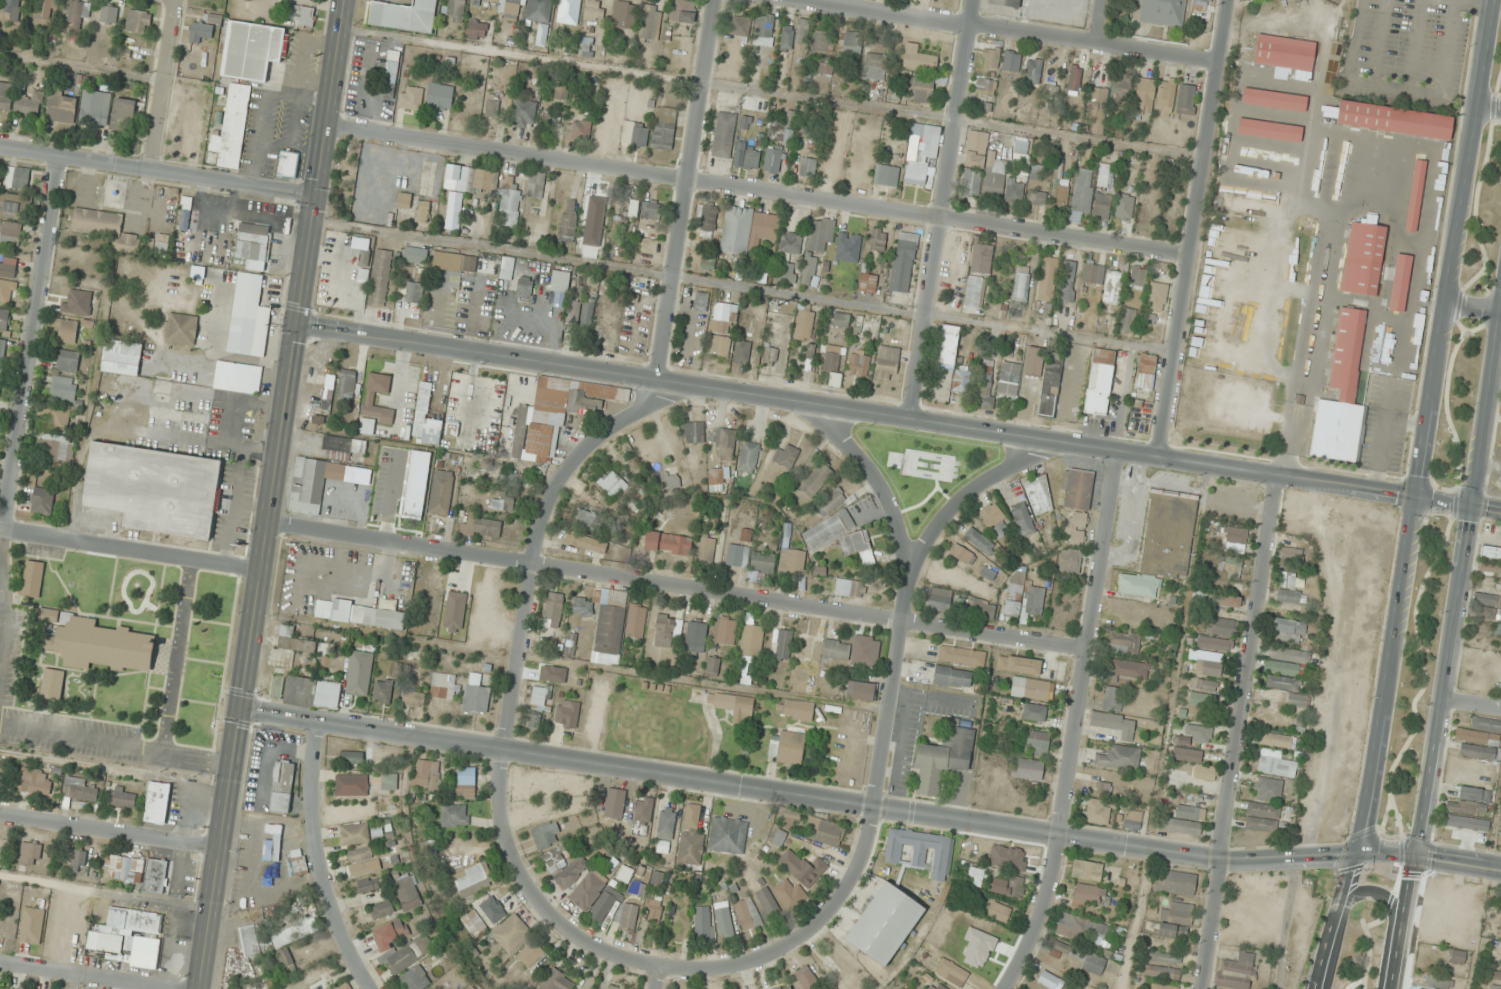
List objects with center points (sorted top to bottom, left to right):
building: (1006, 3)
building: (12, 6)
building: (45, 8)
building: (508, 9)
building: (539, 10)
building: (594, 10)
building: (455, 11)
building: (569, 11)
building: (682, 11)
building: (76, 12)
building: (1163, 12)
building: (108, 14)
building: (298, 15)
building: (403, 15)
building: (625, 15)
building: (138, 21)
road: (1099, 21)
building: (650, 23)
building: (738, 26)
building: (203, 28)
building: (476, 30)
building: (765, 30)
road: (1016, 30)
building: (795, 34)
building: (821, 41)
building: (852, 44)
building: (251, 49)
building: (1283, 52)
building: (990, 57)
building: (918, 59)
building: (1011, 61)
building: (874, 67)
building: (824, 69)
building: (1033, 71)
building: (389, 80)
building: (1074, 81)
road: (160, 84)
building: (985, 87)
building: (1121, 89)
building: (560, 90)
building: (920, 90)
building: (1049, 95)
building: (1166, 95)
building: (440, 96)
building: (1145, 96)
building: (5, 97)
building: (410, 98)
building: (1186, 99)
building: (1273, 99)
building: (29, 104)
building: (492, 106)
building: (985, 106)
road: (1487, 106)
building: (61, 107)
building: (95, 108)
building: (1097, 111)
building: (523, 114)
building: (123, 115)
building: (613, 116)
building: (1389, 119)
building: (744, 122)
building: (233, 124)
building: (663, 128)
building: (1268, 129)
building: (579, 130)
building: (634, 134)
building: (723, 135)
building: (599, 138)
building: (1021, 147)
building: (976, 149)
building: (920, 152)
building: (747, 158)
building: (772, 159)
building: (287, 164)
building: (807, 167)
road: (158, 170)
building: (1037, 172)
building: (888, 176)
building: (1104, 176)
building: (17, 178)
building: (994, 178)
building: (971, 183)
building: (536, 184)
building: (1059, 185)
building: (464, 188)
building: (1015, 190)
road: (758, 193)
building: (1081, 194)
building: (1414, 196)
traffic signals: (317, 197)
building: (1036, 197)
building: (403, 201)
building: (592, 205)
building: (10, 206)
building: (509, 207)
building: (626, 207)
building: (1102, 207)
building: (652, 209)
road: (945, 209)
building: (422, 211)
building: (708, 218)
building: (568, 223)
building: (105, 228)
road: (1195, 228)
building: (11, 229)
building: (747, 229)
building: (820, 233)
building: (877, 239)
building: (253, 242)
building: (790, 243)
building: (158, 247)
building: (848, 247)
building: (595, 248)
road: (1454, 250)
building: (417, 256)
building: (981, 258)
building: (1362, 258)
building: (454, 262)
building: (903, 262)
building: (8, 268)
building: (506, 268)
building: (808, 270)
building: (1094, 273)
building: (379, 278)
building: (1138, 278)
building: (560, 281)
building: (1069, 281)
building: (867, 282)
building: (1399, 282)
building: (1021, 286)
building: (1046, 286)
building: (524, 287)
building: (1113, 287)
building: (6, 292)
building: (411, 292)
building: (973, 292)
building: (1157, 296)
building: (700, 301)
road: (1472, 306)
building: (785, 307)
road: (1499, 310)
building: (573, 312)
building: (587, 313)
building: (248, 317)
building: (4, 319)
building: (841, 320)
building: (1127, 320)
traffic signals: (298, 324)
building: (804, 325)
building: (64, 329)
building: (182, 329)
building: (719, 332)
road: (32, 343)
building: (948, 346)
building: (2, 349)
building: (741, 351)
road: (293, 355)
building: (770, 356)
building: (121, 357)
building: (67, 361)
building: (1034, 361)
building: (833, 363)
building: (858, 363)
building: (886, 363)
building: (1146, 372)
building: (1, 375)
building: (237, 378)
building: (962, 379)
building: (1008, 379)
building: (1100, 382)
building: (346, 385)
building: (63, 388)
building: (1050, 388)
building: (328, 392)
building: (1341, 394)
road: (1484, 395)
building: (985, 396)
building: (190, 397)
building: (369, 399)
road: (654, 399)
road: (856, 409)
building: (557, 414)
building: (58, 418)
building: (425, 419)
building: (451, 430)
building: (692, 432)
building: (723, 442)
building: (54, 448)
building: (337, 448)
building: (785, 455)
building: (748, 456)
building: (509, 478)
road: (877, 478)
building: (716, 479)
building: (816, 479)
building: (320, 482)
building: (672, 482)
building: (611, 483)
building: (153, 488)
building: (1077, 489)
building: (441, 492)
railway: (1316, 492)
building: (1039, 496)
traffic signals: (1414, 500)
building: (42, 501)
building: (503, 501)
building: (830, 502)
road: (1441, 503)
traffic signals: (1468, 507)
road: (1484, 509)
building: (587, 519)
building: (994, 519)
building: (1023, 519)
building: (481, 527)
building: (828, 529)
building: (1075, 529)
building: (1234, 535)
building: (979, 540)
building: (586, 542)
building: (667, 542)
building: (1163, 542)
building: (858, 548)
road: (131, 549)
road: (2, 550)
building: (705, 550)
building: (1292, 553)
building: (1490, 553)
building: (962, 554)
building: (738, 555)
building: (790, 556)
building: (1070, 561)
building: (761, 563)
building: (1231, 566)
building: (1490, 567)
building: (988, 573)
building: (32, 579)
building: (1484, 582)
road: (678, 583)
building: (1016, 584)
building: (1291, 588)
building: (850, 589)
road: (909, 589)
building: (939, 598)
building: (1034, 600)
building: (1228, 601)
building: (1485, 605)
building: (582, 606)
building: (1012, 606)
building: (983, 609)
building: (553, 610)
building: (360, 614)
building: (636, 621)
building: (1224, 626)
building: (1288, 630)
building: (664, 631)
building: (724, 631)
building: (1496, 631)
building: (609, 634)
building: (696, 637)
building: (294, 641)
building: (751, 641)
building: (570, 643)
road: (1088, 643)
building: (1123, 643)
building: (1215, 643)
building: (98, 644)
building: (783, 644)
building: (805, 647)
building: (854, 650)
building: (961, 655)
road: (175, 656)
parking lot: (9, 660)
building: (1286, 661)
building: (1205, 663)
building: (1019, 665)
building: (712, 666)
building: (1128, 669)
building: (559, 672)
building: (359, 673)
building: (952, 676)
road: (1441, 680)
building: (1274, 682)
building: (52, 684)
building: (1206, 685)
building: (444, 686)
building: (1031, 689)
building: (383, 690)
building: (860, 690)
building: (312, 693)
building: (476, 695)
building: (540, 697)
building: (1113, 698)
building: (413, 699)
building: (1203, 700)
road: (1470, 700)
building: (1298, 701)
building: (736, 706)
building: (796, 710)
traffic signals: (241, 711)
building: (1035, 712)
building: (568, 715)
building: (534, 721)
building: (1115, 724)
road: (1242, 733)
building: (1205, 736)
building: (1480, 738)
building: (1277, 740)
building: (1038, 743)
road: (1370, 745)
road: (116, 746)
building: (788, 747)
building: (351, 757)
building: (1119, 757)
building: (943, 759)
building: (1199, 763)
building: (1277, 764)
building: (1028, 769)
building: (426, 774)
building: (1177, 776)
building: (2, 780)
building: (35, 781)
building: (389, 781)
building: (466, 783)
building: (351, 785)
building: (282, 786)
building: (1103, 788)
building: (79, 789)
building: (1268, 790)
building: (1475, 794)
building: (121, 797)
road: (825, 801)
building: (157, 802)
building: (615, 803)
building: (1466, 808)
building: (643, 811)
building: (1098, 811)
building: (455, 815)
building: (1262, 817)
building: (1133, 819)
building: (666, 823)
building: (1468, 827)
traffic signals: (1356, 830)
building: (826, 831)
road: (110, 832)
building: (355, 834)
building: (546, 835)
building: (728, 835)
building: (691, 836)
road: (220, 850)
building: (919, 850)
traffic signals: (1337, 850)
building: (272, 853)
building: (30, 854)
building: (1008, 857)
building: (555, 858)
traffic signals: (1434, 858)
building: (78, 860)
road: (321, 860)
building: (361, 861)
building: (297, 862)
road: (1456, 862)
building: (125, 868)
building: (1087, 870)
building: (572, 872)
building: (810, 872)
traffic signals: (1409, 872)
building: (625, 873)
building: (156, 876)
building: (975, 877)
building: (657, 878)
building: (472, 879)
building: (1176, 882)
building: (369, 885)
building: (588, 889)
road: (531, 891)
building: (407, 892)
road: (1382, 892)
building: (789, 893)
building: (1088, 894)
building: (767, 902)
building: (604, 904)
building: (382, 909)
building: (493, 909)
building: (654, 909)
building: (999, 912)
building: (1177, 913)
building: (747, 914)
road: (1043, 915)
building: (628, 916)
building: (723, 917)
building: (958, 919)
road: (1400, 921)
building: (704, 922)
building: (474, 923)
building: (884, 923)
building: (32, 925)
building: (1081, 929)
building: (1167, 929)
building: (295, 933)
building: (511, 933)
building: (391, 934)
building: (1500, 935)
building: (132, 936)
road: (800, 936)
building: (248, 942)
building: (410, 953)
building: (531, 953)
building: (232, 954)
building: (1458, 957)
building: (1166, 958)
building: (837, 960)
building: (287, 961)
building: (1094, 963)
building: (1237, 971)
building: (952, 972)
building: (1161, 972)
road: (86, 976)
building: (318, 976)
building: (807, 977)
road: (654, 978)
building: (415, 979)
building: (1050, 980)
building: (557, 981)
building: (1439, 983)
building: (343, 986)
building: (618, 986)
building: (1163, 986)
building: (470, 987)
building: (784, 987)
building: (940, 987)

